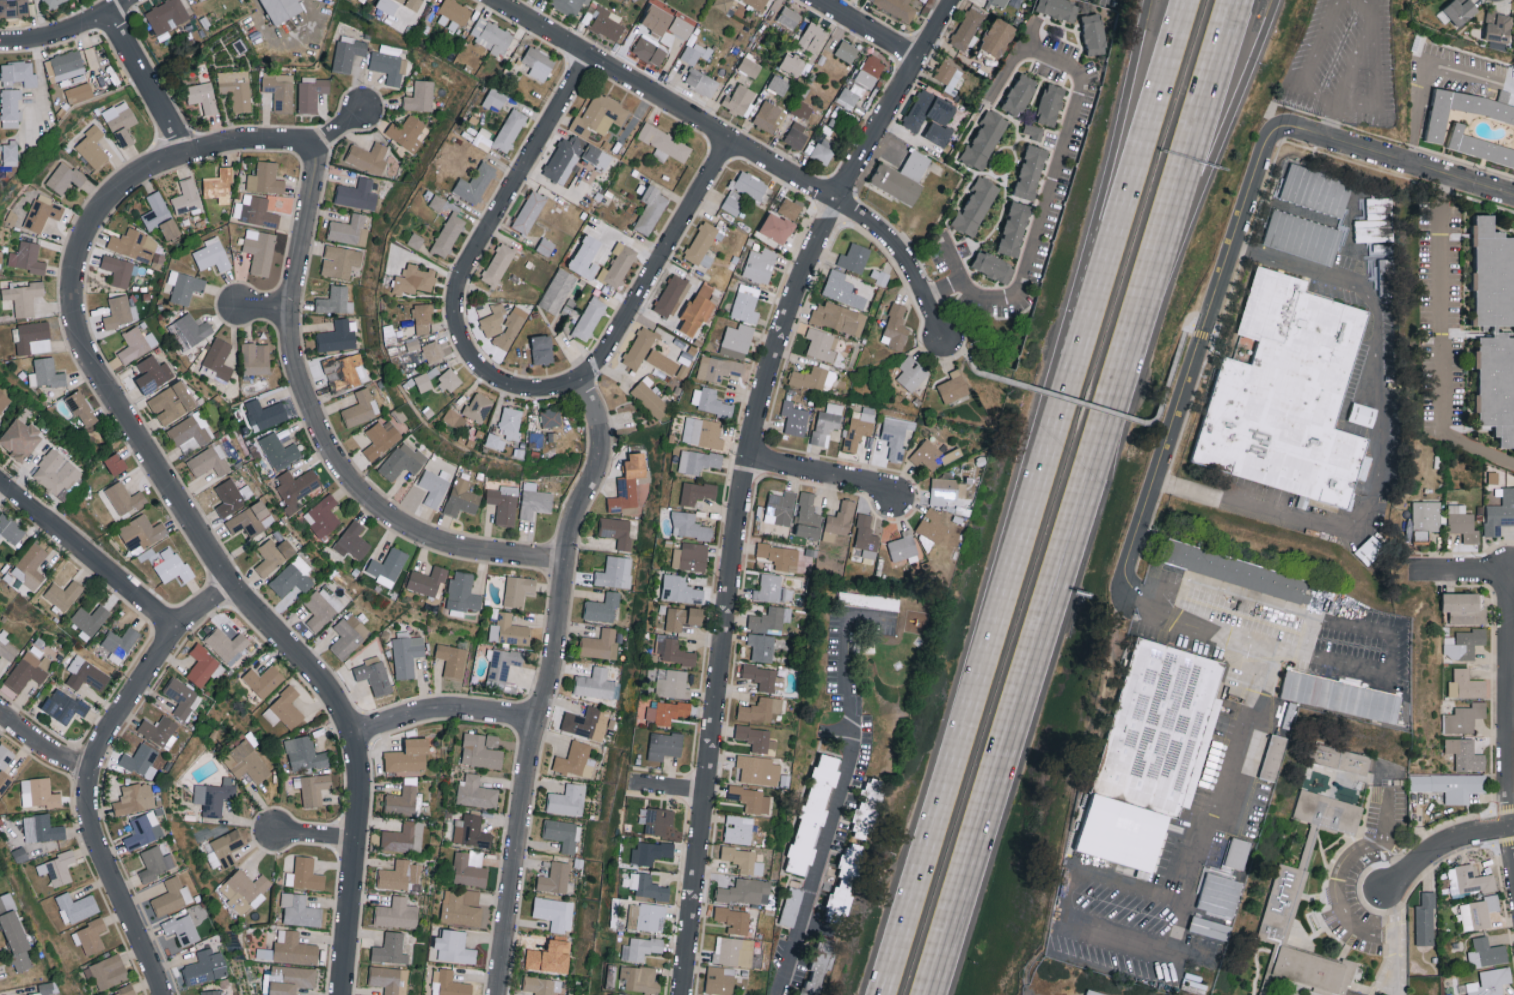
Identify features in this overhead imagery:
building: (200, 0)
parking lot: (1109, 1)
building: (1001, 2)
building: (53, 3)
building: (411, 3)
building: (757, 3)
building: (723, 4)
building: (387, 5)
building: (568, 5)
building: (13, 8)
building: (898, 8)
building: (1058, 8)
building: (281, 9)
building: (1460, 10)
building: (453, 14)
building: (165, 16)
building: (789, 17)
building: (606, 23)
building: (681, 27)
road: (875, 27)
building: (967, 28)
building: (1497, 30)
road: (65, 31)
road: (1028, 32)
building: (1093, 33)
building: (491, 35)
building: (812, 36)
building: (998, 37)
building: (834, 42)
road: (288, 46)
building: (649, 48)
building: (695, 51)
building: (846, 51)
building: (348, 52)
building: (538, 62)
building: (389, 63)
building: (792, 64)
building: (66, 66)
building: (749, 66)
road: (1419, 67)
building: (870, 70)
building: (19, 72)
building: (947, 72)
road: (40, 77)
road: (1373, 79)
road: (148, 80)
building: (701, 81)
building: (778, 85)
building: (236, 88)
building: (279, 89)
building: (78, 92)
building: (311, 94)
building: (1020, 94)
building: (849, 95)
building: (203, 96)
building: (420, 96)
road: (1325, 96)
building: (494, 99)
building: (738, 99)
building: (1050, 104)
building: (10, 107)
building: (609, 108)
building: (802, 109)
building: (1464, 109)
building: (768, 116)
building: (931, 116)
building: (586, 119)
building: (121, 122)
road: (1333, 122)
road: (345, 125)
building: (509, 130)
building: (1033, 131)
building: (407, 132)
building: (796, 135)
road: (1196, 139)
road: (1216, 139)
building: (984, 140)
building: (664, 143)
road: (885, 144)
road: (743, 145)
building: (1479, 146)
building: (92, 147)
building: (823, 149)
building: (9, 153)
road: (1059, 153)
building: (368, 157)
building: (573, 157)
building: (916, 164)
road: (1403, 164)
building: (1031, 171)
building: (65, 177)
building: (265, 178)
building: (475, 183)
building: (896, 183)
building: (219, 185)
building: (751, 185)
building: (1316, 190)
building: (355, 193)
building: (187, 197)
road: (1102, 201)
road: (1123, 201)
building: (733, 202)
building: (975, 207)
building: (790, 208)
building: (651, 209)
building: (255, 211)
building: (529, 211)
building: (43, 212)
building: (160, 215)
road: (497, 216)
building: (1375, 221)
building: (777, 227)
building: (1014, 228)
building: (349, 229)
building: (448, 234)
building: (1302, 236)
building: (415, 240)
building: (134, 244)
building: (702, 244)
building: (546, 246)
building: (259, 250)
building: (212, 254)
building: (27, 257)
building: (586, 257)
building: (854, 257)
building: (340, 261)
building: (498, 264)
building: (618, 264)
building: (760, 265)
building: (993, 266)
building: (118, 269)
road: (959, 273)
building: (1386, 276)
building: (881, 277)
building: (414, 279)
building: (184, 286)
building: (842, 289)
building: (557, 290)
building: (670, 295)
building: (24, 297)
building: (335, 300)
road: (637, 302)
building: (746, 303)
road: (267, 307)
building: (697, 310)
building: (120, 312)
building: (839, 317)
building: (422, 318)
building: (589, 318)
building: (493, 320)
building: (1495, 326)
building: (511, 327)
building: (895, 327)
building: (190, 330)
road: (1182, 333)
building: (389, 334)
building: (337, 336)
building: (32, 337)
building: (737, 340)
road: (1443, 341)
building: (136, 343)
building: (412, 344)
building: (821, 344)
building: (640, 347)
building: (542, 349)
building: (432, 351)
road: (1197, 355)
building: (219, 358)
building: (255, 358)
building: (662, 361)
road: (972, 364)
building: (718, 368)
building: (346, 371)
building: (46, 373)
building: (153, 373)
building: (911, 373)
building: (813, 378)
building: (449, 380)
building: (423, 381)
building: (953, 386)
road: (1049, 391)
road: (1164, 393)
building: (1288, 394)
building: (649, 399)
building: (3, 401)
building: (709, 401)
building: (172, 402)
building: (479, 406)
building: (81, 407)
building: (361, 407)
road: (1117, 412)
building: (264, 414)
building: (1363, 414)
building: (550, 417)
building: (454, 418)
building: (794, 418)
building: (510, 422)
building: (827, 422)
building: (859, 427)
road: (323, 431)
building: (191, 432)
building: (702, 432)
building: (895, 435)
building: (20, 438)
building: (381, 438)
building: (535, 439)
building: (495, 441)
road: (1377, 445)
building: (279, 451)
building: (930, 457)
building: (402, 460)
building: (209, 461)
building: (697, 461)
building: (115, 463)
building: (55, 472)
road: (746, 475)
road: (827, 475)
building: (631, 484)
building: (434, 486)
building: (297, 487)
building: (946, 490)
building: (696, 492)
road: (175, 494)
building: (229, 496)
building: (125, 498)
building: (461, 498)
building: (535, 500)
building: (503, 503)
building: (780, 507)
building: (1499, 513)
building: (322, 515)
building: (808, 517)
building: (1425, 518)
building: (251, 519)
building: (839, 521)
building: (1462, 523)
building: (688, 526)
building: (932, 526)
building: (1409, 528)
building: (10, 529)
building: (617, 531)
building: (141, 533)
building: (866, 536)
building: (353, 540)
building: (902, 545)
building: (1370, 549)
road: (90, 554)
building: (273, 555)
building: (689, 556)
building: (780, 556)
building: (171, 565)
building: (30, 566)
building: (387, 566)
road: (1458, 570)
building: (1238, 571)
building: (615, 572)
building: (292, 578)
building: (427, 580)
road: (1219, 588)
building: (679, 589)
building: (772, 589)
building: (518, 590)
building: (462, 593)
building: (63, 594)
building: (321, 607)
building: (602, 607)
building: (1463, 607)
building: (682, 617)
building: (90, 618)
building: (770, 619)
building: (509, 630)
road: (1197, 630)
building: (349, 635)
road: (1043, 636)
road: (1307, 638)
building: (600, 642)
building: (119, 643)
building: (1464, 643)
building: (227, 644)
building: (6, 647)
building: (761, 647)
building: (673, 652)
building: (407, 655)
building: (452, 659)
road: (1388, 662)
building: (201, 665)
building: (502, 665)
building: (28, 670)
building: (86, 673)
building: (374, 674)
building: (764, 677)
building: (263, 680)
road: (547, 683)
building: (671, 683)
building: (596, 684)
building: (1465, 684)
building: (1343, 694)
building: (181, 697)
road: (971, 699)
building: (64, 705)
building: (284, 708)
building: (760, 709)
building: (665, 711)
road: (443, 712)
road: (1510, 714)
building: (1464, 717)
building: (586, 722)
building: (1164, 724)
building: (159, 730)
building: (754, 737)
road: (44, 745)
building: (664, 745)
building: (481, 750)
building: (304, 753)
building: (1465, 754)
building: (408, 755)
building: (1275, 755)
building: (139, 758)
building: (576, 760)
building: (246, 761)
building: (1343, 768)
building: (758, 769)
road: (93, 771)
building: (1450, 785)
road: (839, 786)
road: (1075, 786)
building: (312, 787)
road: (670, 790)
building: (38, 792)
building: (475, 792)
building: (134, 797)
building: (213, 797)
building: (402, 798)
building: (750, 798)
building: (568, 799)
building: (868, 806)
building: (812, 813)
building: (1329, 818)
building: (655, 819)
building: (42, 828)
building: (739, 828)
building: (143, 830)
building: (470, 830)
building: (1126, 830)
building: (562, 833)
road: (317, 835)
building: (403, 837)
road: (1385, 837)
building: (1309, 844)
building: (227, 846)
road: (1442, 849)
building: (650, 851)
building: (855, 851)
building: (1239, 852)
building: (743, 859)
building: (157, 860)
building: (57, 868)
building: (469, 868)
building: (304, 873)
building: (399, 874)
building: (555, 877)
building: (1468, 880)
building: (646, 885)
building: (245, 890)
building: (745, 891)
building: (1221, 892)
building: (171, 896)
building: (841, 897)
road: (1162, 897)
road: (1342, 897)
building: (460, 906)
building: (790, 906)
building: (76, 907)
building: (299, 909)
building: (396, 912)
building: (555, 912)
building: (1478, 912)
building: (643, 916)
building: (1282, 917)
building: (733, 919)
building: (1425, 919)
building: (182, 928)
building: (14, 932)
building: (90, 935)
road: (1396, 941)
building: (454, 946)
building: (294, 947)
building: (639, 947)
building: (390, 948)
building: (732, 950)
building: (1485, 952)
road: (1194, 955)
building: (550, 956)
building: (205, 966)
building: (818, 967)
building: (107, 971)
building: (638, 978)
building: (291, 979)
building: (390, 979)
building: (719, 979)
building: (448, 983)
building: (1486, 983)
building: (543, 985)
building: (47, 987)
building: (124, 991)
building: (211, 992)
building: (27, 994)
building: (621, 994)
building: (1093, 994)

